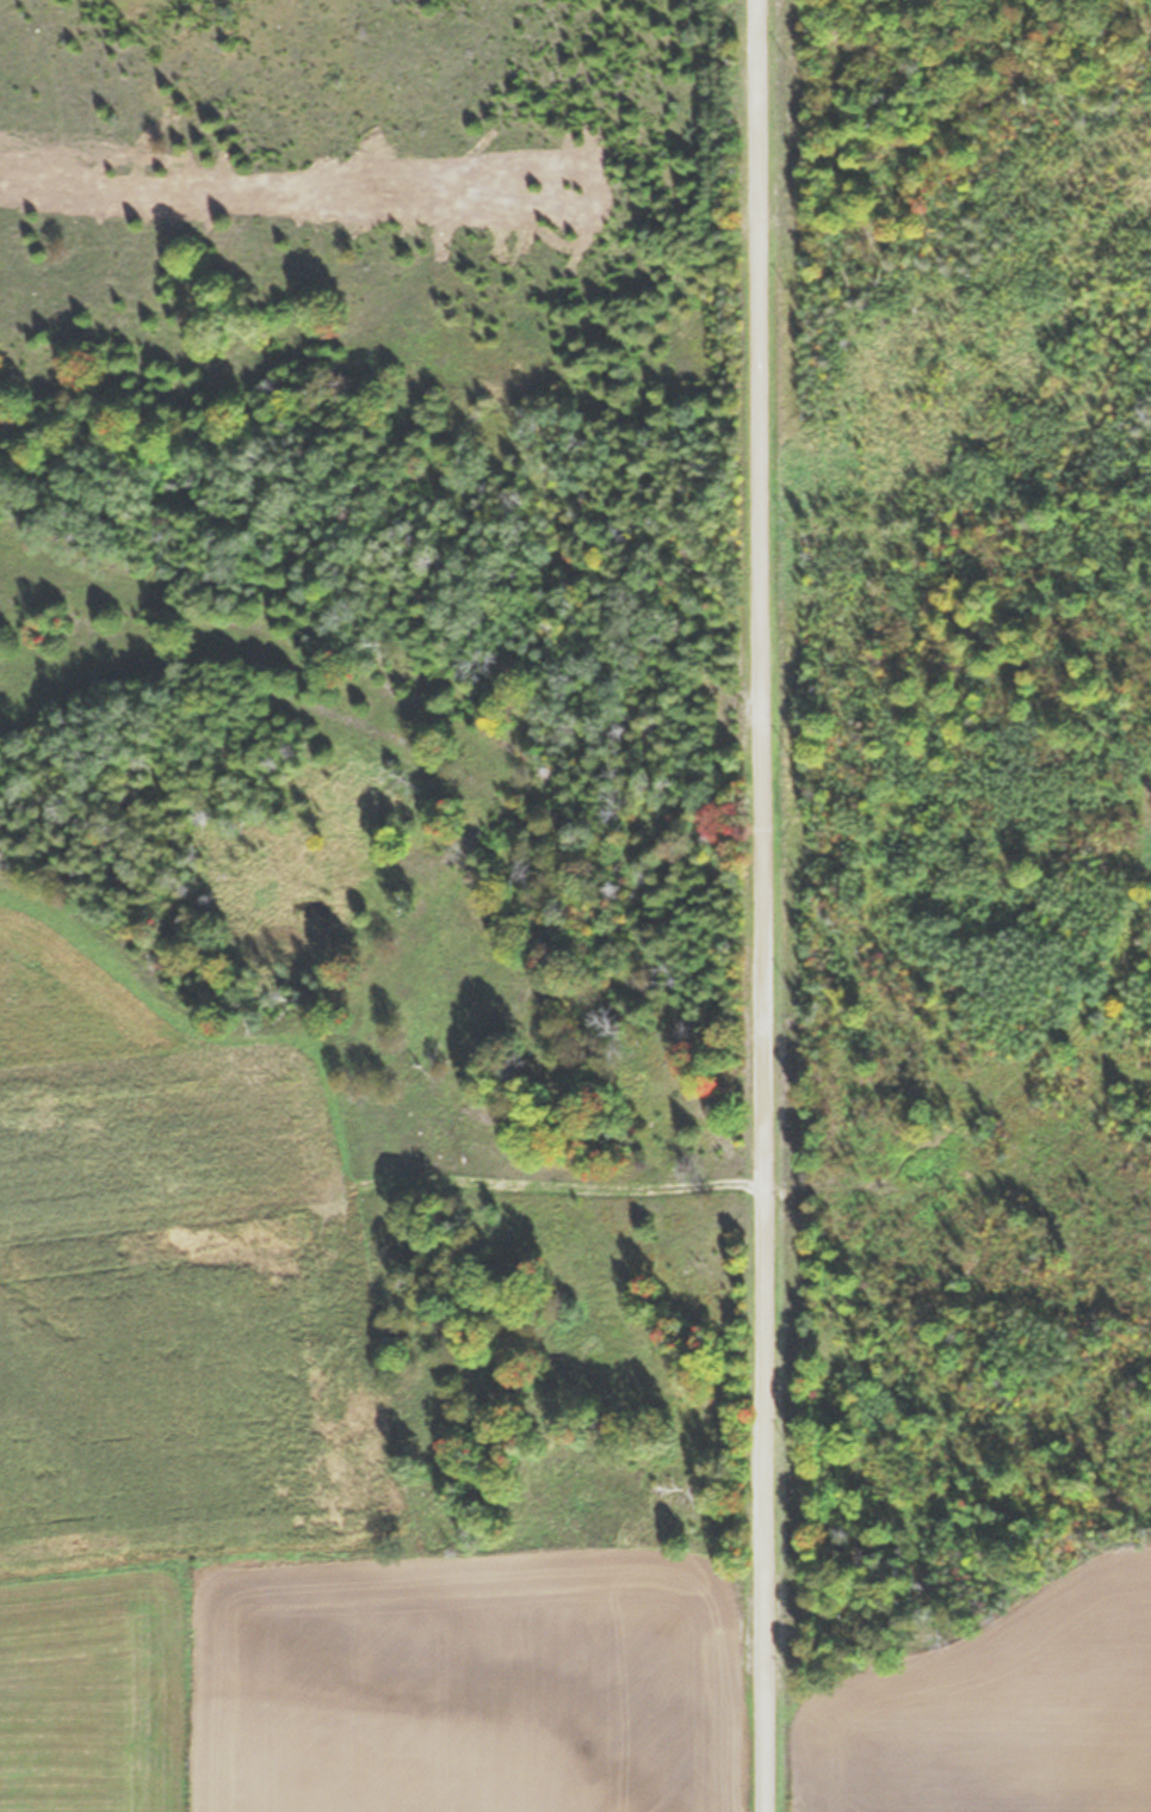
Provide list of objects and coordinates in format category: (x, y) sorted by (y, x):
road: (769, 905)

